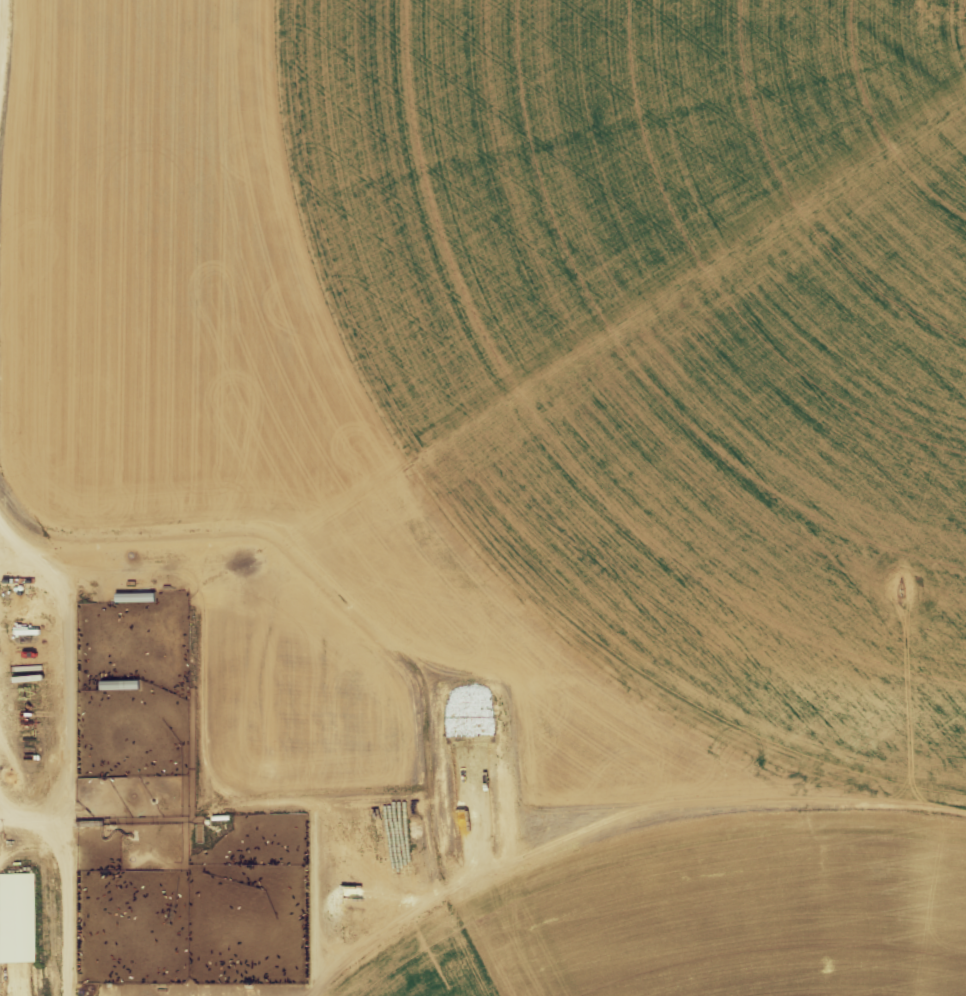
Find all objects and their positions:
road: (483, 825)
building: (20, 918)

